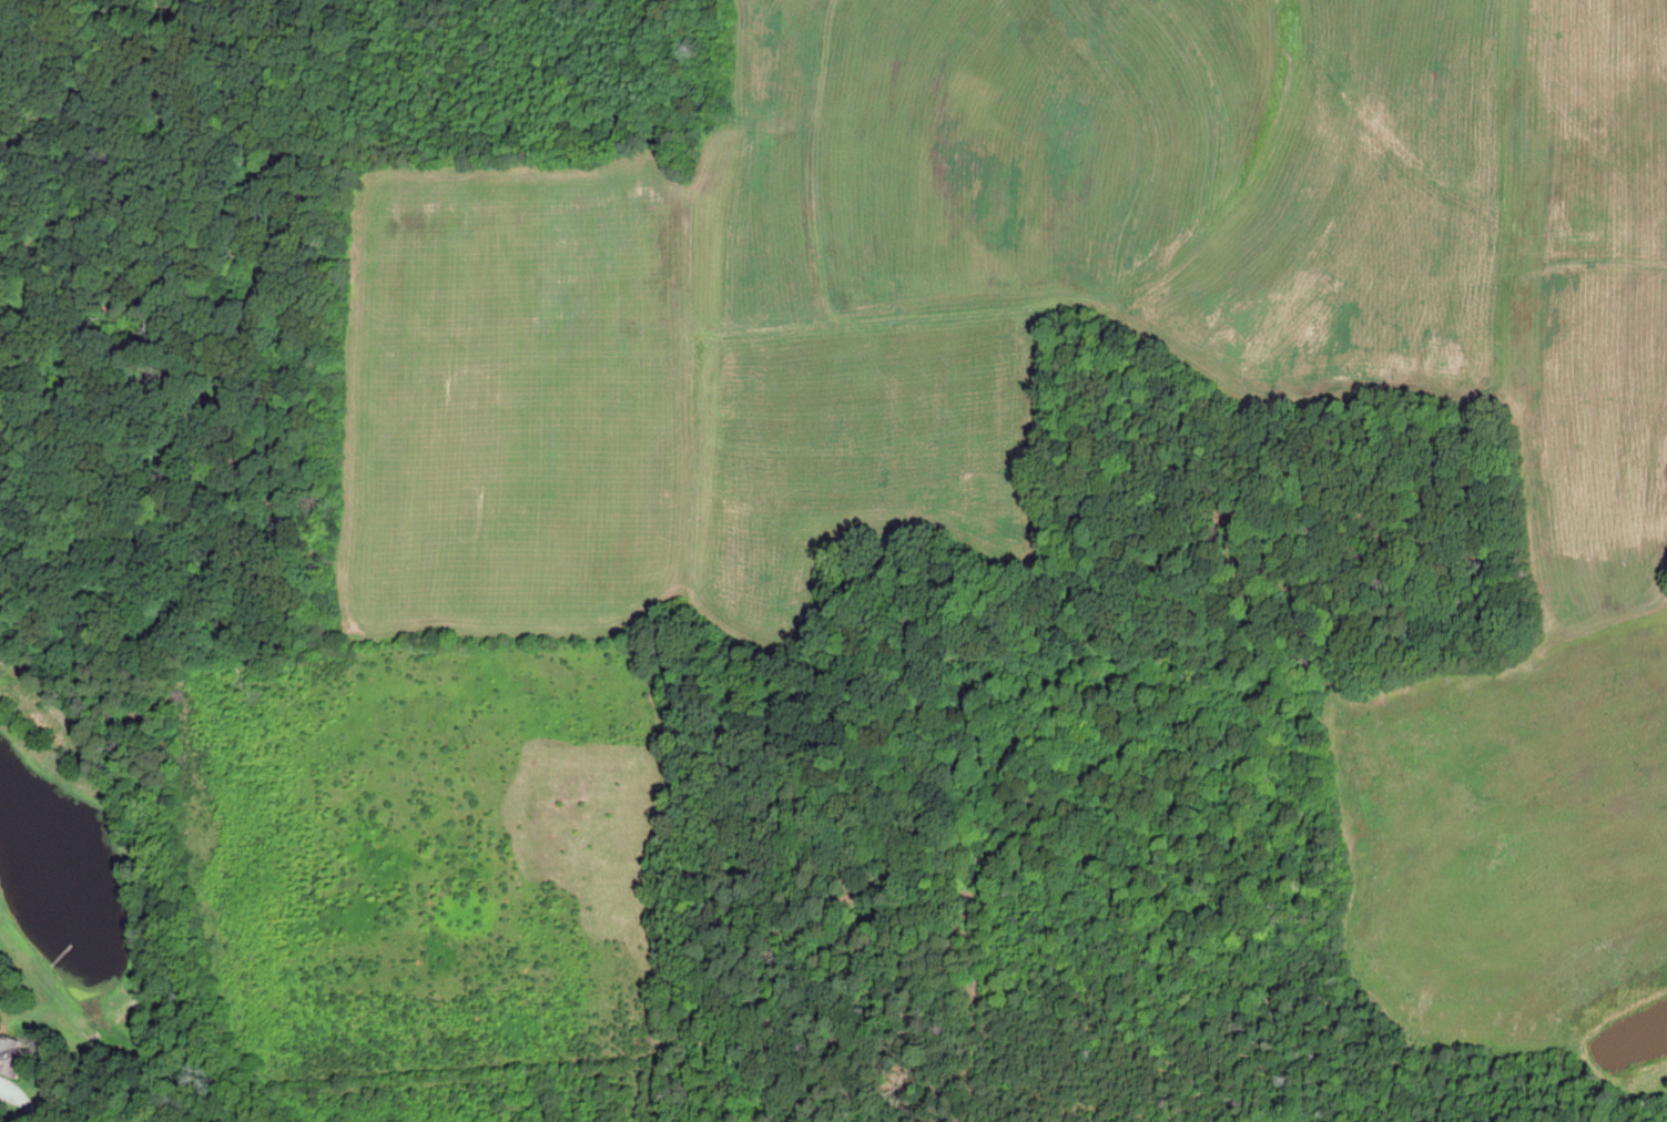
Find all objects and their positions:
building: (14, 1054)
road: (27, 1105)

